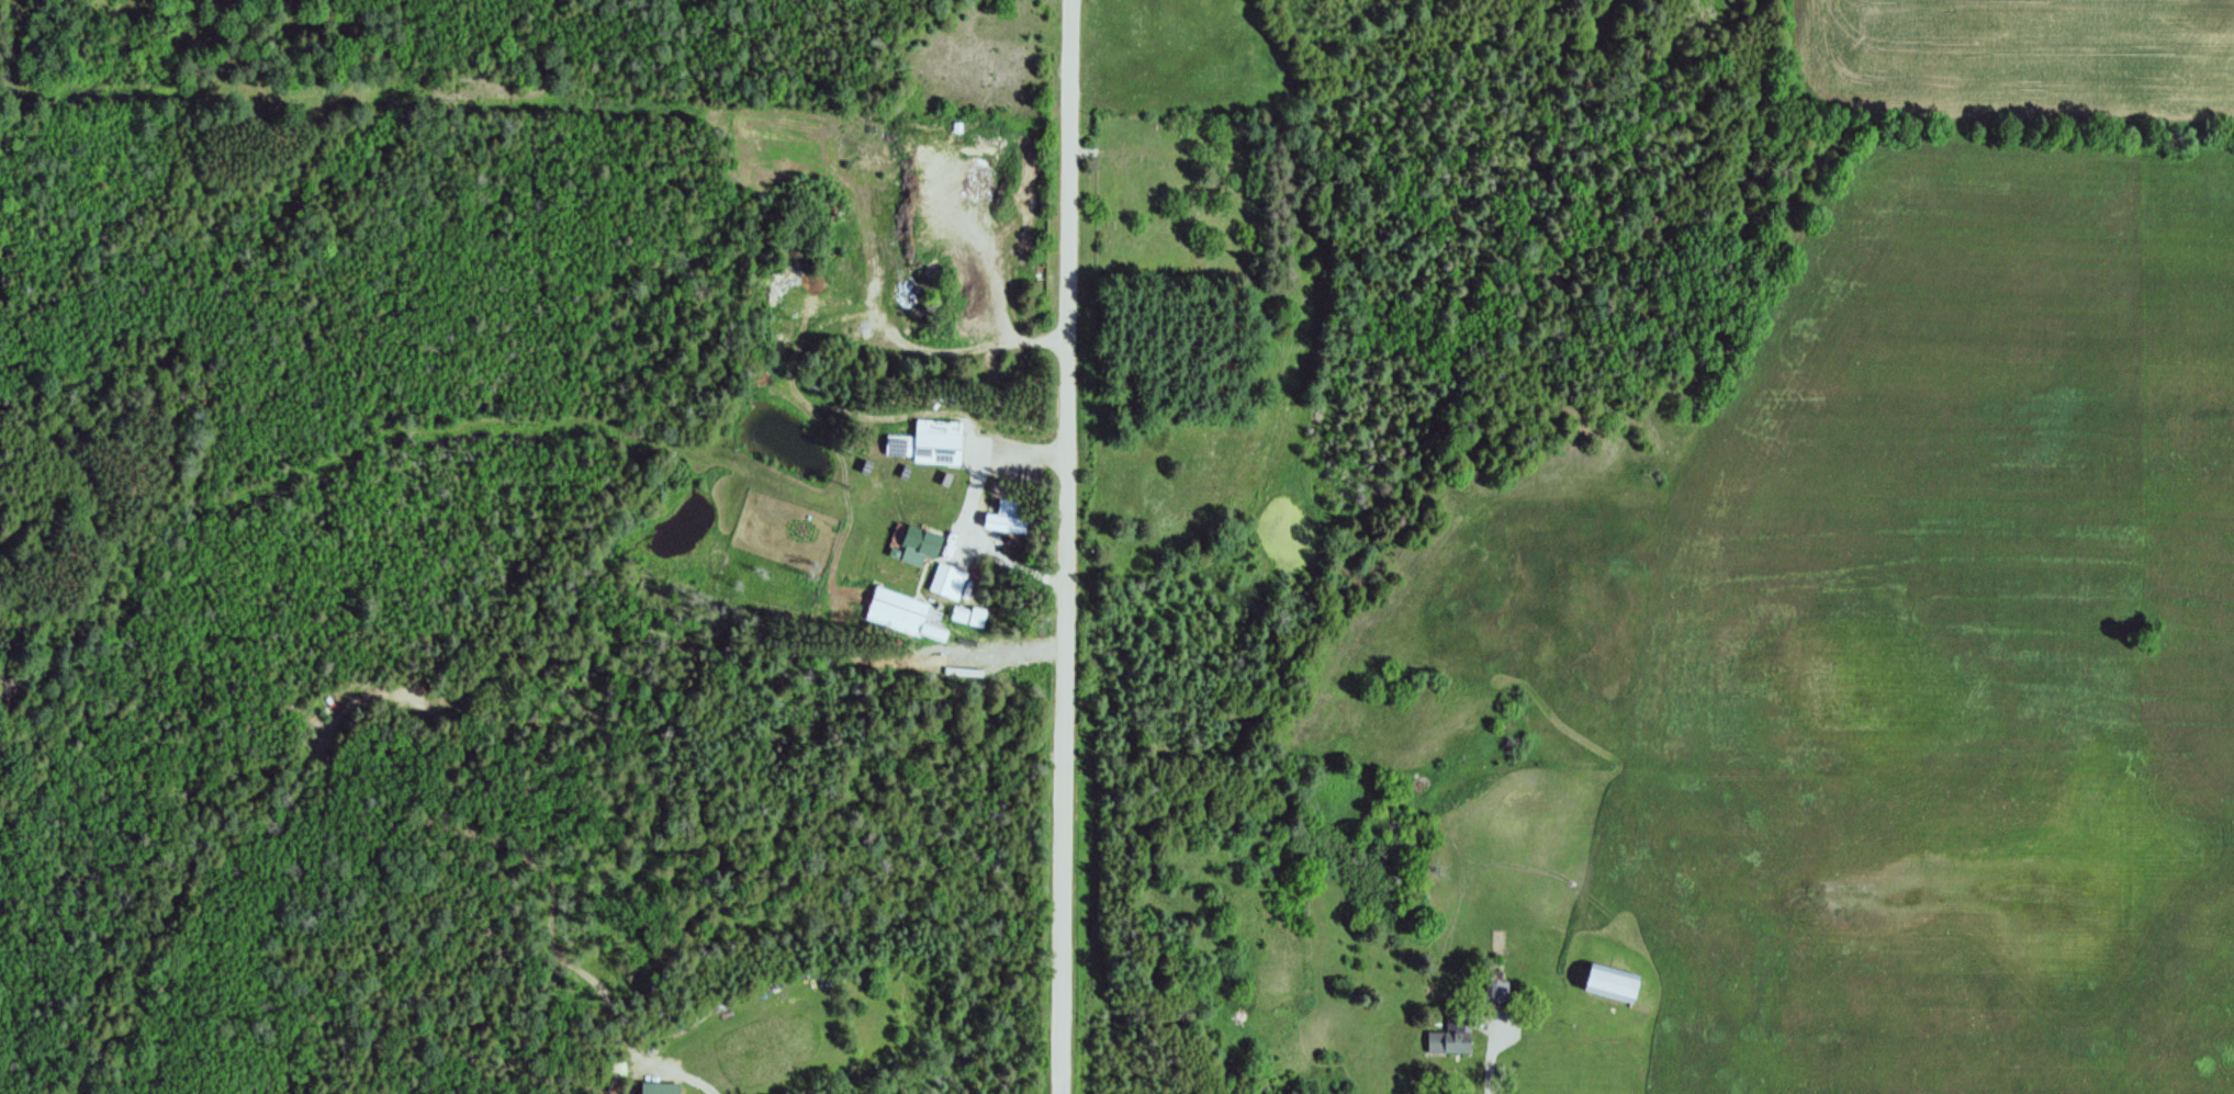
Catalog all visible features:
park: (1201, 252)
building: (900, 448)
building: (1008, 512)
building: (920, 542)
road: (1067, 546)
building: (947, 583)
building: (962, 617)
building: (933, 619)
building: (1610, 983)
building: (1496, 989)
building: (1452, 1037)
building: (660, 1089)

